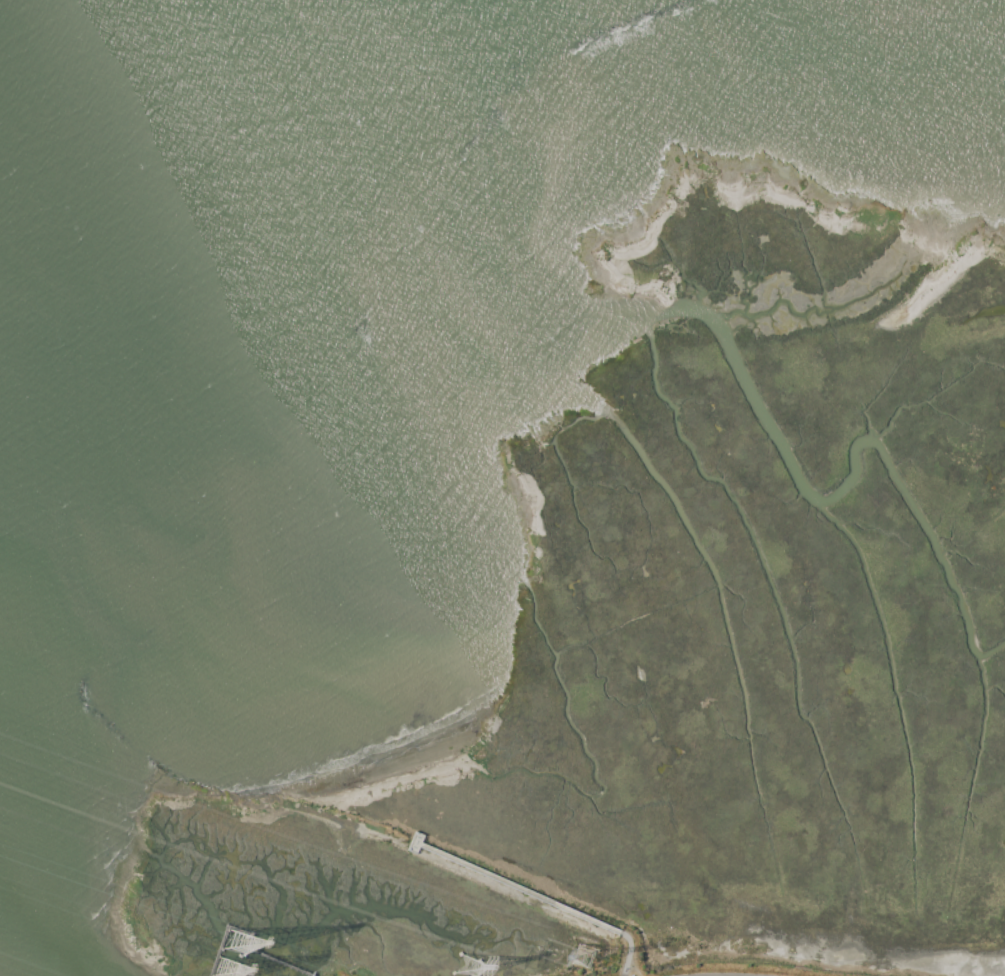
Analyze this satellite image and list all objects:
pier: (506, 882)
power tower: (234, 941)
road: (628, 952)
power tower: (584, 957)
power tower: (224, 968)
power tower: (465, 968)
road: (724, 975)

